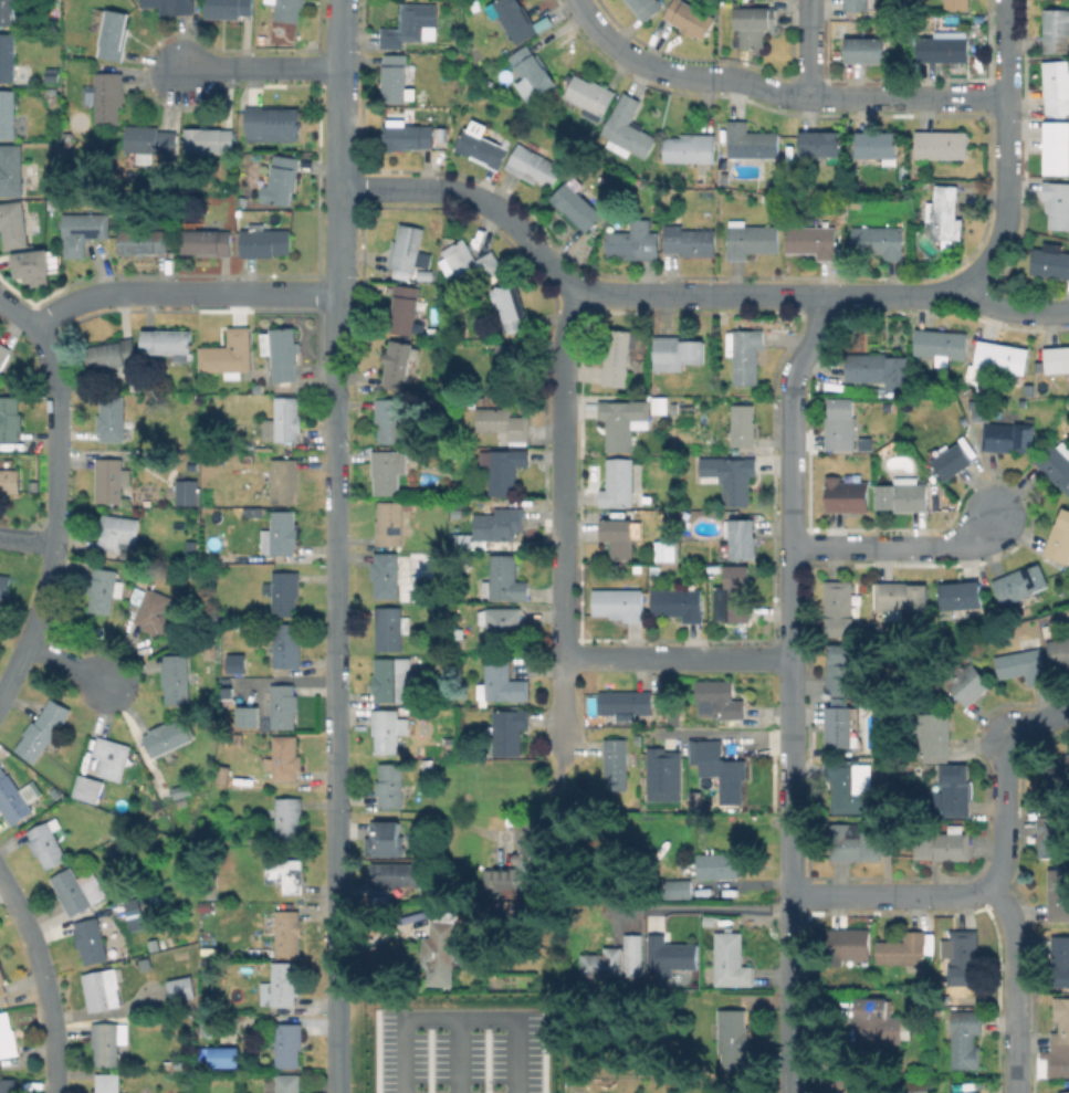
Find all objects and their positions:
building: (957, 3)
building: (172, 4)
building: (860, 4)
building: (229, 8)
building: (646, 8)
building: (289, 10)
building: (8, 12)
building: (514, 18)
building: (690, 18)
building: (410, 23)
building: (753, 23)
building: (1057, 30)
building: (115, 34)
building: (944, 46)
road: (808, 49)
building: (866, 50)
building: (8, 57)
road: (638, 60)
road: (255, 66)
building: (532, 74)
building: (396, 77)
building: (491, 81)
building: (1057, 86)
road: (335, 93)
building: (107, 96)
building: (590, 96)
road: (862, 97)
building: (8, 113)
building: (272, 127)
building: (629, 129)
building: (67, 137)
building: (409, 137)
building: (210, 139)
building: (752, 141)
building: (150, 143)
building: (941, 144)
building: (822, 145)
building: (878, 145)
building: (1057, 146)
building: (482, 147)
building: (691, 148)
road: (1005, 148)
building: (535, 165)
building: (11, 169)
building: (725, 177)
building: (282, 180)
building: (1057, 202)
building: (577, 206)
building: (946, 213)
building: (13, 228)
building: (83, 230)
building: (843, 238)
building: (751, 239)
road: (336, 240)
building: (635, 240)
building: (879, 240)
building: (145, 241)
building: (208, 241)
building: (691, 241)
building: (813, 241)
building: (265, 242)
building: (408, 248)
building: (472, 262)
building: (1051, 262)
building: (30, 273)
building: (427, 274)
road: (564, 275)
road: (179, 293)
road: (893, 296)
building: (511, 306)
building: (406, 308)
road: (1015, 308)
road: (18, 316)
building: (169, 343)
building: (942, 343)
building: (283, 353)
building: (677, 353)
building: (4, 354)
building: (113, 354)
building: (228, 354)
building: (746, 355)
building: (1002, 356)
building: (617, 357)
building: (1057, 359)
building: (399, 365)
building: (509, 366)
building: (880, 369)
building: (134, 385)
building: (258, 388)
building: (874, 389)
building: (481, 399)
building: (660, 400)
building: (472, 401)
building: (977, 410)
building: (10, 418)
building: (113, 418)
building: (395, 418)
building: (283, 420)
building: (625, 422)
building: (505, 423)
building: (744, 424)
building: (840, 424)
building: (1009, 437)
building: (450, 438)
building: (250, 455)
building: (953, 460)
building: (1056, 462)
building: (503, 469)
road: (560, 469)
building: (389, 470)
building: (731, 476)
building: (112, 480)
building: (10, 481)
building: (284, 481)
building: (620, 484)
building: (34, 485)
building: (459, 485)
building: (473, 490)
building: (188, 492)
building: (847, 495)
building: (903, 495)
building: (408, 506)
road: (56, 522)
building: (390, 523)
building: (500, 524)
building: (119, 532)
building: (621, 533)
building: (281, 534)
building: (742, 537)
building: (1059, 538)
road: (28, 543)
building: (192, 546)
road: (900, 546)
building: (667, 550)
building: (192, 560)
building: (136, 567)
building: (657, 569)
building: (386, 575)
building: (142, 579)
building: (505, 579)
building: (1020, 584)
building: (4, 586)
building: (105, 590)
building: (286, 592)
road: (790, 592)
building: (737, 593)
building: (902, 597)
building: (961, 598)
building: (679, 602)
building: (619, 603)
building: (840, 608)
building: (158, 613)
building: (503, 623)
building: (391, 628)
building: (285, 645)
building: (207, 650)
building: (1059, 651)
road: (675, 656)
building: (233, 663)
building: (1024, 664)
road: (72, 665)
building: (841, 669)
building: (177, 679)
building: (392, 680)
building: (966, 680)
building: (505, 682)
road: (334, 692)
building: (720, 697)
building: (627, 702)
building: (284, 705)
building: (449, 713)
building: (245, 716)
building: (674, 716)
building: (840, 724)
road: (562, 726)
building: (386, 729)
building: (450, 729)
building: (509, 729)
building: (44, 731)
building: (932, 736)
building: (168, 737)
building: (113, 757)
building: (286, 757)
building: (616, 764)
building: (428, 765)
building: (723, 769)
building: (223, 771)
building: (1058, 771)
building: (662, 774)
building: (849, 784)
building: (391, 785)
building: (90, 788)
building: (954, 790)
building: (14, 796)
building: (290, 819)
building: (1052, 832)
building: (230, 838)
building: (385, 838)
building: (858, 841)
building: (48, 843)
building: (943, 845)
building: (717, 864)
building: (518, 870)
building: (286, 873)
building: (400, 875)
building: (209, 885)
road: (991, 885)
building: (679, 889)
building: (78, 890)
building: (1059, 894)
road: (891, 895)
building: (206, 905)
road: (688, 907)
building: (132, 914)
building: (285, 931)
building: (92, 938)
building: (849, 946)
building: (441, 948)
building: (904, 950)
building: (633, 954)
building: (963, 956)
building: (673, 958)
building: (730, 958)
building: (1060, 960)
building: (146, 963)
building: (602, 964)
road: (44, 981)
building: (2, 982)
building: (281, 985)
building: (182, 988)
building: (102, 989)
road: (789, 994)
road: (458, 1015)
building: (879, 1021)
building: (1060, 1026)
building: (733, 1034)
building: (8, 1036)
building: (966, 1038)
building: (108, 1041)
building: (289, 1044)
parking lot: (458, 1050)
road: (454, 1053)
building: (227, 1057)
building: (289, 1082)
building: (108, 1083)
building: (9, 1085)
building: (916, 1086)
building: (857, 1092)
building: (961, 1092)
building: (1063, 1092)

